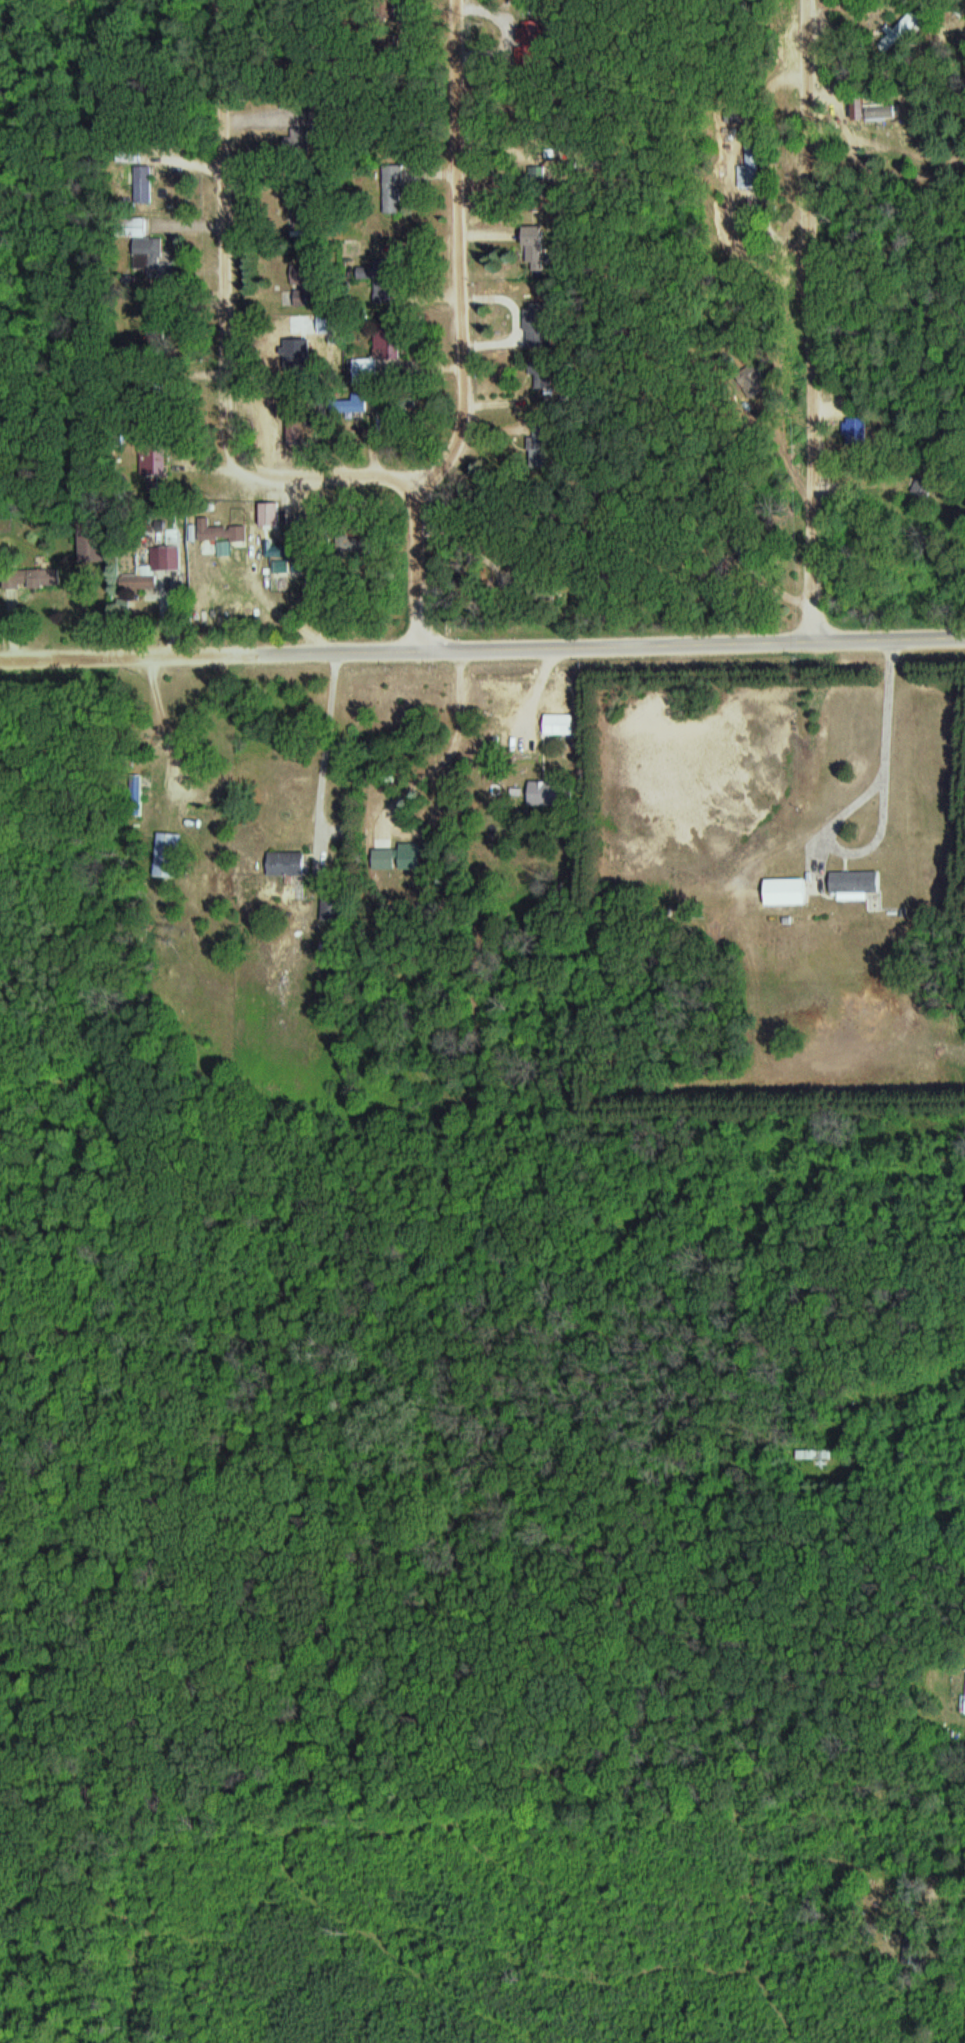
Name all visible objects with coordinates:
building: (903, 31)
building: (874, 114)
building: (131, 153)
building: (752, 169)
building: (146, 184)
building: (396, 189)
road: (467, 251)
road: (812, 320)
building: (328, 324)
road: (234, 328)
building: (305, 351)
building: (367, 372)
building: (857, 432)
building: (926, 491)
building: (218, 530)
building: (93, 554)
building: (173, 557)
road: (423, 564)
building: (51, 572)
building: (143, 580)
road: (482, 648)
building: (561, 724)
building: (549, 793)
building: (207, 814)
building: (170, 855)
building: (385, 859)
building: (412, 859)
building: (288, 864)
road: (922, 880)
building: (856, 882)
road: (903, 1005)
road: (471, 1513)

